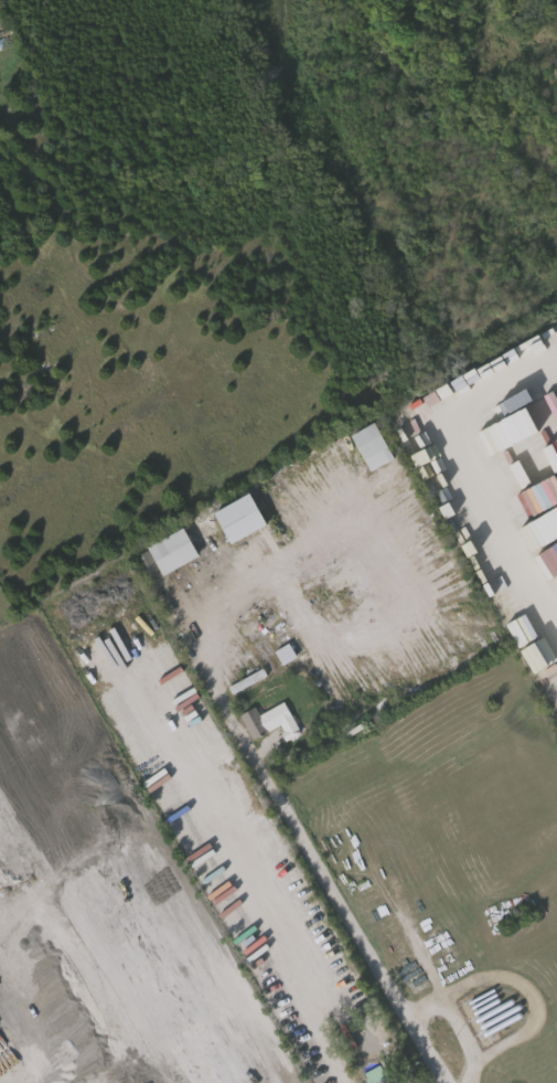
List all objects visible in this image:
building: (374, 447)
road: (459, 473)
building: (242, 519)
building: (174, 553)
building: (139, 562)
building: (279, 651)
building: (287, 655)
building: (271, 669)
building: (272, 722)
road: (275, 792)
road: (277, 945)
building: (371, 1030)
road: (282, 1071)
building: (371, 1073)
building: (266, 1076)

